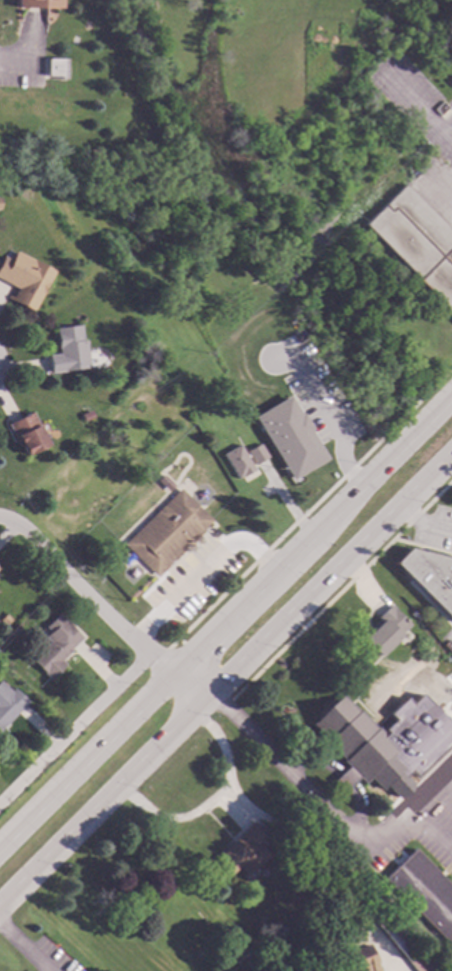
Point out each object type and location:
building: (34, 3)
road: (15, 61)
building: (52, 69)
road: (422, 110)
road: (439, 195)
building: (415, 242)
building: (23, 278)
building: (68, 349)
building: (138, 358)
building: (277, 427)
building: (27, 433)
building: (255, 453)
building: (236, 461)
building: (164, 482)
road: (421, 528)
building: (166, 532)
road: (201, 570)
building: (428, 576)
road: (337, 594)
road: (101, 609)
building: (4, 619)
road: (227, 624)
building: (383, 630)
building: (14, 632)
building: (54, 645)
road: (225, 679)
building: (8, 702)
road: (74, 729)
building: (355, 743)
road: (429, 781)
road: (328, 815)
road: (172, 824)
road: (291, 835)
building: (245, 850)
building: (424, 893)
building: (401, 943)
road: (22, 948)
building: (354, 960)
building: (243, 961)

